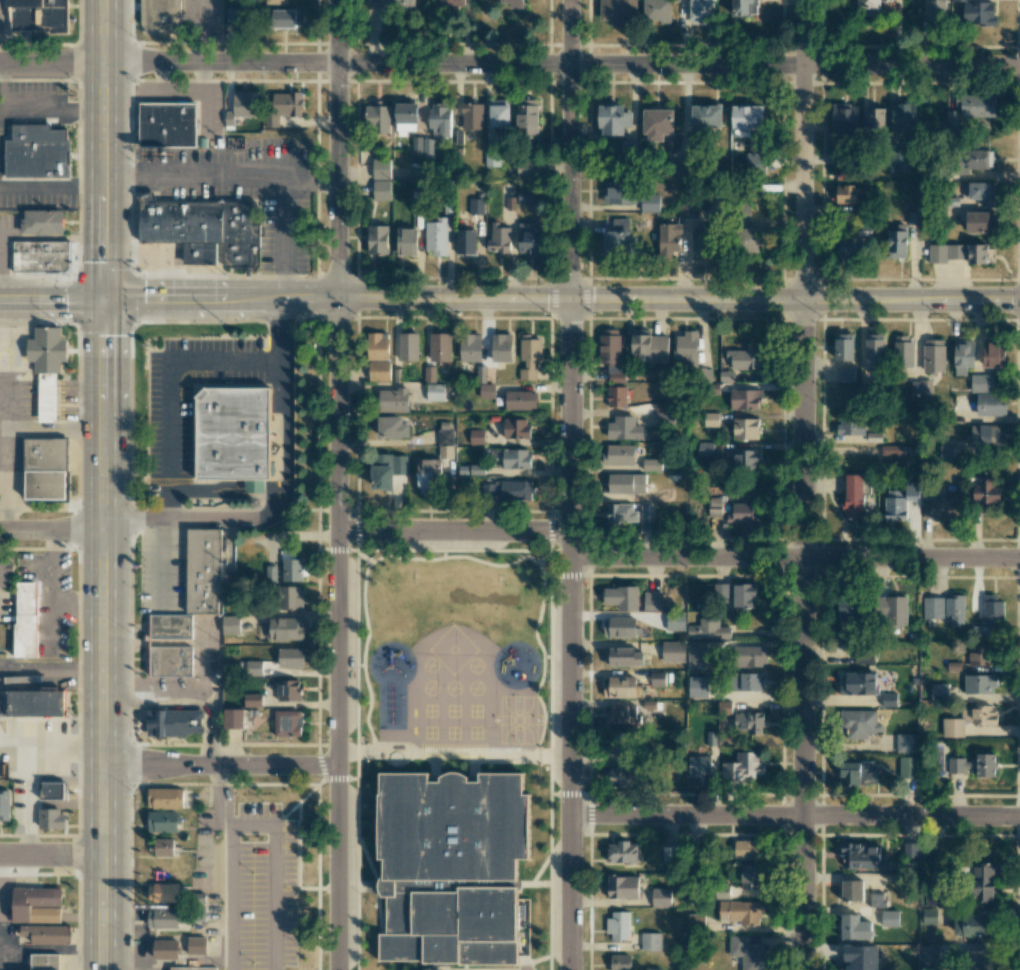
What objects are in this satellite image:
building: (278, 1)
building: (390, 3)
building: (513, 3)
building: (451, 4)
building: (742, 7)
building: (869, 7)
building: (657, 10)
building: (701, 11)
building: (936, 11)
building: (618, 12)
building: (977, 13)
building: (41, 16)
building: (234, 16)
building: (161, 17)
building: (287, 19)
road: (509, 64)
road: (2, 86)
building: (976, 105)
building: (241, 106)
building: (282, 106)
road: (47, 107)
building: (499, 113)
building: (472, 116)
building: (527, 116)
building: (706, 116)
building: (903, 117)
building: (405, 118)
building: (747, 118)
building: (874, 118)
building: (950, 118)
building: (377, 119)
building: (845, 119)
building: (440, 120)
building: (611, 120)
building: (657, 123)
building: (169, 125)
building: (416, 145)
building: (427, 148)
road: (801, 149)
building: (37, 158)
building: (973, 160)
building: (756, 162)
building: (898, 162)
building: (527, 168)
building: (381, 169)
building: (677, 169)
building: (844, 172)
road: (219, 176)
road: (52, 187)
building: (381, 190)
building: (980, 192)
building: (618, 193)
building: (525, 196)
building: (848, 200)
building: (650, 203)
building: (476, 206)
building: (686, 210)
building: (43, 221)
building: (981, 222)
building: (206, 230)
building: (436, 236)
road: (283, 237)
building: (617, 237)
road: (54, 238)
building: (529, 238)
building: (377, 239)
building: (499, 239)
building: (669, 240)
building: (701, 241)
building: (752, 241)
building: (407, 242)
building: (465, 242)
building: (897, 242)
building: (848, 248)
building: (945, 252)
building: (977, 254)
building: (41, 257)
road: (4, 262)
road: (52, 297)
road: (561, 298)
traffic signals: (104, 299)
traffic signals: (569, 299)
building: (377, 346)
building: (408, 346)
building: (843, 346)
building: (440, 347)
building: (470, 347)
building: (648, 347)
building: (501, 348)
building: (686, 348)
building: (47, 350)
building: (874, 350)
building: (903, 351)
building: (611, 352)
road: (19, 354)
building: (993, 354)
building: (529, 356)
building: (934, 356)
building: (963, 356)
building: (745, 358)
building: (379, 371)
building: (429, 374)
building: (481, 374)
building: (846, 374)
building: (725, 376)
building: (981, 383)
building: (920, 387)
road: (171, 391)
building: (487, 391)
building: (435, 392)
building: (616, 396)
building: (49, 397)
building: (746, 399)
road: (56, 400)
building: (393, 400)
building: (520, 400)
building: (991, 404)
road: (7, 406)
building: (663, 406)
building: (664, 419)
building: (711, 419)
building: (851, 426)
building: (392, 427)
road: (56, 428)
building: (516, 428)
building: (624, 428)
building: (746, 428)
building: (236, 433)
building: (986, 435)
building: (476, 437)
building: (874, 437)
building: (445, 440)
building: (704, 448)
building: (892, 450)
building: (945, 452)
building: (619, 454)
building: (516, 458)
building: (747, 459)
building: (893, 462)
building: (651, 464)
building: (45, 469)
building: (387, 470)
building: (429, 470)
road: (6, 477)
road: (336, 484)
road: (569, 484)
road: (105, 485)
building: (630, 486)
building: (516, 490)
road: (283, 491)
building: (985, 492)
building: (853, 496)
building: (900, 500)
building: (714, 506)
building: (937, 509)
building: (621, 513)
building: (744, 514)
road: (52, 526)
road: (453, 530)
road: (795, 558)
building: (292, 570)
building: (5, 572)
building: (204, 572)
building: (271, 573)
building: (744, 595)
building: (289, 598)
building: (622, 598)
building: (652, 601)
road: (78, 605)
building: (850, 608)
building: (933, 608)
building: (955, 609)
building: (890, 610)
building: (991, 614)
building: (27, 622)
road: (51, 624)
building: (230, 625)
building: (621, 627)
building: (285, 629)
building: (708, 630)
road: (803, 633)
building: (171, 645)
building: (673, 652)
building: (696, 654)
building: (980, 654)
building: (752, 656)
building: (290, 657)
building: (623, 657)
building: (864, 658)
building: (250, 668)
building: (658, 678)
building: (747, 681)
building: (858, 684)
building: (979, 684)
building: (620, 687)
building: (697, 687)
building: (288, 690)
building: (939, 691)
building: (252, 700)
building: (36, 704)
building: (724, 706)
building: (621, 714)
building: (233, 718)
building: (968, 720)
building: (174, 722)
building: (749, 722)
building: (287, 723)
building: (858, 724)
building: (616, 743)
building: (907, 743)
building: (974, 765)
building: (699, 766)
road: (220, 767)
building: (907, 767)
building: (743, 768)
building: (858, 774)
building: (621, 777)
building: (53, 790)
road: (229, 796)
building: (164, 798)
building: (4, 804)
road: (794, 814)
building: (51, 819)
building: (162, 821)
road: (252, 825)
building: (162, 847)
building: (745, 849)
building: (910, 850)
building: (622, 852)
building: (669, 853)
road: (51, 856)
building: (863, 856)
building: (446, 874)
building: (750, 877)
building: (984, 882)
building: (622, 887)
parking lot: (260, 888)
building: (852, 890)
building: (163, 891)
building: (661, 897)
building: (933, 898)
building: (876, 899)
building: (741, 911)
building: (36, 915)
building: (929, 916)
building: (163, 918)
building: (890, 918)
building: (695, 922)
building: (618, 925)
building: (970, 925)
building: (855, 927)
building: (650, 941)
building: (196, 946)
building: (165, 949)
building: (746, 953)
building: (928, 954)
building: (860, 957)
building: (979, 960)
building: (46, 961)
building: (620, 962)
road: (128, 964)
building: (193, 969)

